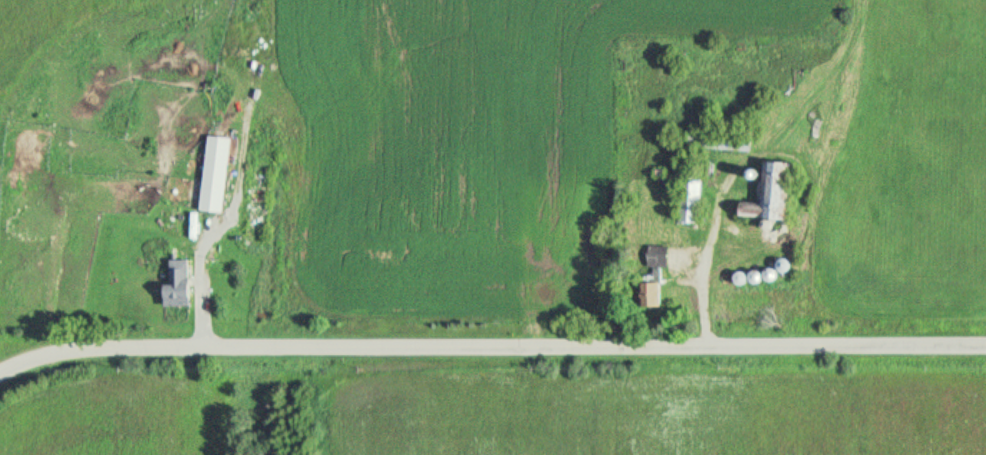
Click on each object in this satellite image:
building: (726, 136)
building: (224, 172)
building: (776, 184)
building: (696, 192)
road: (723, 219)
road: (216, 239)
building: (663, 253)
building: (652, 262)
building: (185, 283)
building: (655, 289)
building: (645, 294)
road: (490, 346)

